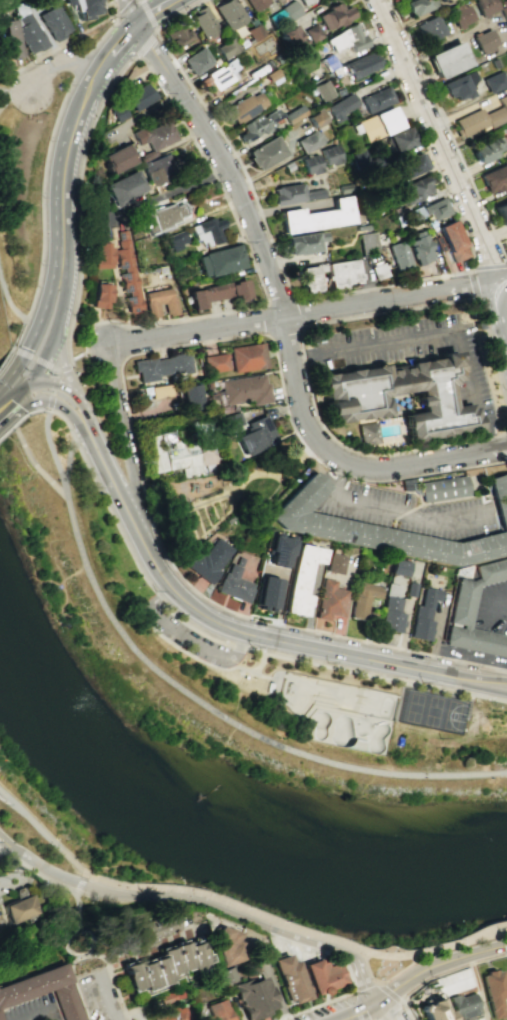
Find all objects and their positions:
building: (51, 1)
building: (303, 1)
building: (255, 3)
building: (418, 6)
building: (82, 8)
road: (122, 9)
building: (289, 9)
road: (112, 10)
road: (154, 12)
building: (229, 13)
road: (176, 14)
building: (334, 15)
building: (203, 21)
building: (53, 23)
building: (481, 26)
building: (429, 28)
building: (27, 30)
road: (154, 31)
building: (254, 31)
building: (312, 33)
road: (101, 35)
building: (176, 35)
building: (292, 37)
road: (122, 38)
building: (345, 38)
building: (11, 39)
building: (227, 47)
building: (505, 53)
building: (448, 59)
building: (196, 60)
building: (494, 62)
road: (59, 63)
building: (360, 64)
road: (80, 65)
building: (221, 74)
building: (272, 74)
building: (495, 82)
building: (457, 87)
building: (323, 90)
road: (4, 91)
road: (19, 91)
road: (20, 95)
building: (139, 96)
building: (376, 98)
road: (5, 105)
building: (341, 106)
building: (243, 107)
building: (118, 113)
building: (293, 113)
building: (315, 117)
building: (482, 118)
park: (3, 124)
road: (182, 124)
building: (257, 124)
building: (377, 124)
road: (446, 131)
road: (70, 132)
road: (420, 133)
building: (153, 135)
building: (399, 139)
building: (309, 140)
road: (438, 141)
building: (487, 150)
building: (266, 152)
building: (330, 154)
building: (147, 155)
building: (357, 156)
building: (116, 158)
building: (310, 163)
building: (408, 165)
building: (158, 166)
building: (495, 178)
building: (124, 187)
building: (343, 188)
building: (415, 188)
road: (167, 193)
building: (293, 193)
building: (435, 208)
building: (501, 212)
building: (413, 214)
road: (40, 215)
building: (316, 216)
building: (162, 217)
park: (95, 225)
building: (361, 226)
building: (206, 231)
building: (175, 240)
building: (452, 240)
road: (270, 242)
building: (302, 242)
building: (365, 243)
building: (418, 247)
building: (102, 255)
building: (398, 256)
building: (219, 260)
road: (471, 267)
building: (377, 270)
building: (127, 274)
building: (327, 274)
road: (500, 282)
building: (216, 292)
road: (64, 294)
building: (102, 295)
building: (158, 301)
road: (278, 302)
road: (279, 303)
road: (11, 306)
road: (500, 311)
road: (41, 313)
road: (296, 315)
road: (300, 316)
road: (5, 320)
road: (299, 333)
road: (434, 334)
road: (269, 336)
road: (97, 348)
road: (116, 351)
parking lot: (415, 352)
road: (46, 355)
road: (4, 356)
building: (246, 357)
road: (69, 362)
building: (214, 362)
road: (62, 363)
building: (161, 366)
traffic signals: (14, 367)
road: (51, 368)
road: (63, 368)
traffic signals: (38, 379)
road: (13, 382)
road: (57, 383)
road: (29, 384)
building: (243, 389)
building: (161, 391)
road: (16, 393)
road: (17, 397)
traffic signals: (23, 397)
building: (190, 397)
building: (350, 397)
road: (6, 402)
road: (127, 404)
road: (60, 406)
road: (37, 410)
road: (82, 412)
building: (228, 421)
road: (13, 423)
road: (16, 424)
building: (366, 433)
building: (255, 435)
road: (124, 439)
road: (52, 452)
building: (180, 454)
road: (66, 458)
road: (47, 479)
road: (226, 488)
building: (439, 488)
park: (229, 497)
road: (500, 505)
road: (397, 508)
parking lot: (410, 512)
building: (319, 523)
building: (279, 550)
building: (209, 560)
building: (334, 564)
building: (400, 568)
building: (301, 579)
building: (235, 583)
building: (410, 589)
building: (266, 592)
building: (363, 599)
building: (330, 600)
road: (502, 608)
building: (391, 610)
parking lot: (494, 612)
building: (475, 614)
building: (423, 615)
road: (233, 631)
parking lot: (188, 637)
road: (218, 640)
road: (190, 642)
road: (260, 664)
road: (213, 665)
park: (302, 679)
road: (494, 685)
park: (338, 711)
park: (431, 711)
road: (226, 719)
park: (212, 755)
road: (506, 771)
road: (506, 771)
road: (506, 772)
river: (203, 842)
road: (36, 858)
road: (17, 871)
road: (35, 872)
parking lot: (12, 878)
road: (78, 882)
road: (76, 896)
road: (166, 900)
building: (21, 907)
road: (240, 909)
parking lot: (3, 918)
building: (149, 927)
road: (491, 933)
park: (88, 943)
building: (227, 945)
road: (77, 952)
road: (98, 957)
building: (159, 965)
road: (367, 967)
road: (402, 968)
road: (450, 969)
road: (360, 973)
building: (228, 975)
building: (324, 976)
road: (416, 976)
road: (350, 978)
building: (292, 979)
road: (370, 983)
road: (382, 986)
road: (114, 992)
building: (492, 992)
road: (97, 995)
building: (12, 996)
building: (170, 996)
road: (395, 997)
road: (78, 998)
building: (255, 998)
building: (462, 1006)
parking lot: (31, 1009)
road: (384, 1009)
building: (431, 1010)
building: (219, 1011)
road: (389, 1011)
road: (407, 1011)
building: (172, 1013)
road: (36, 1015)
road: (52, 1016)
building: (0, 1019)

